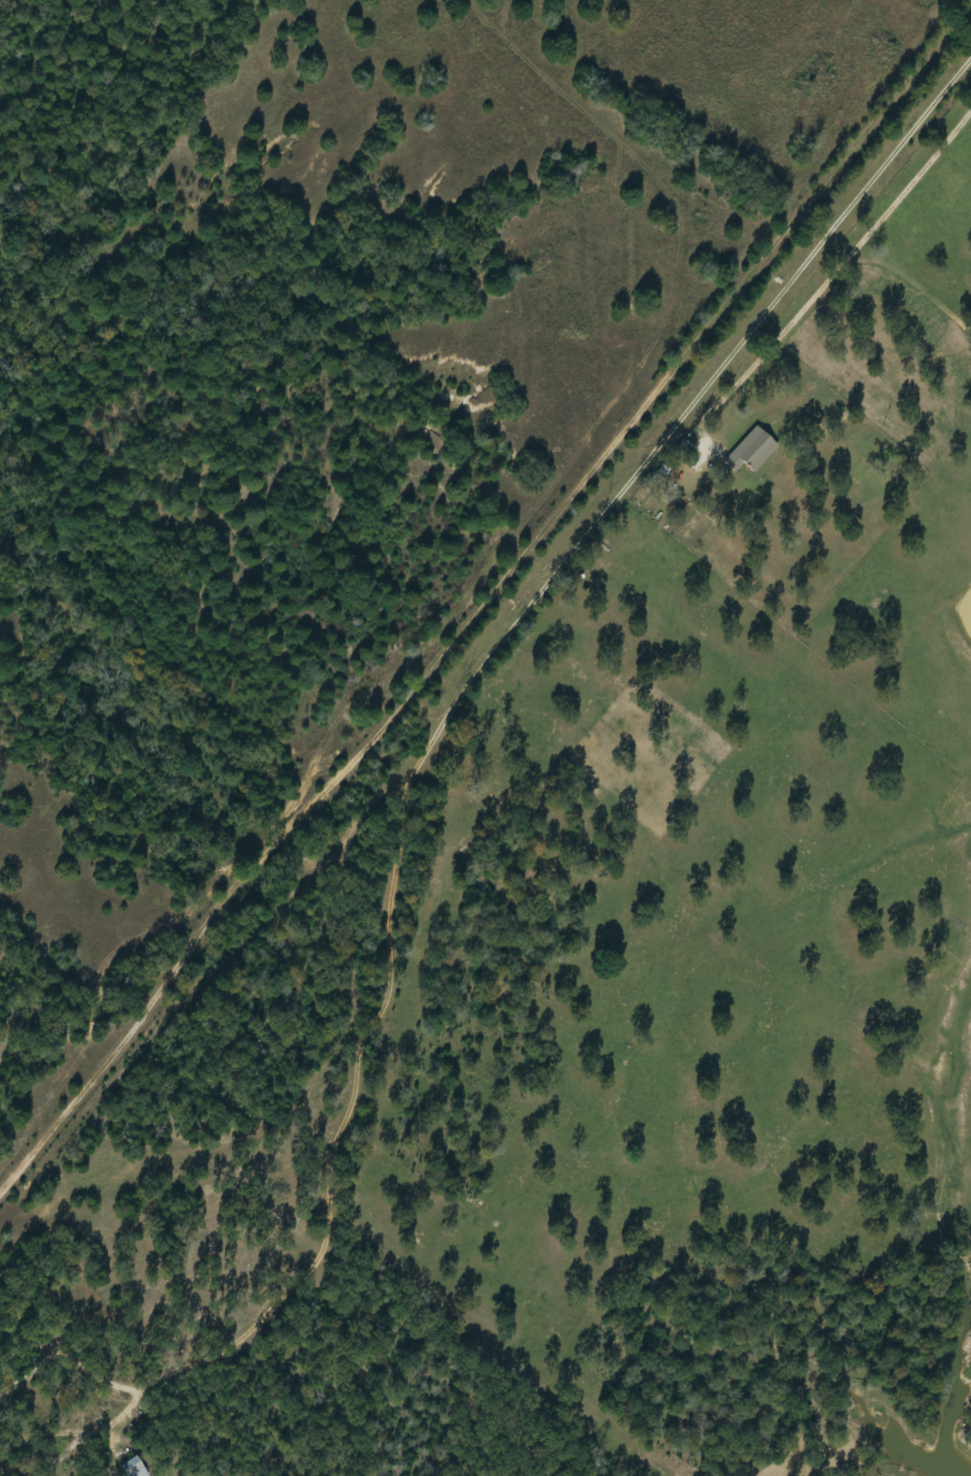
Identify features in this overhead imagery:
building: (751, 448)
road: (483, 593)

